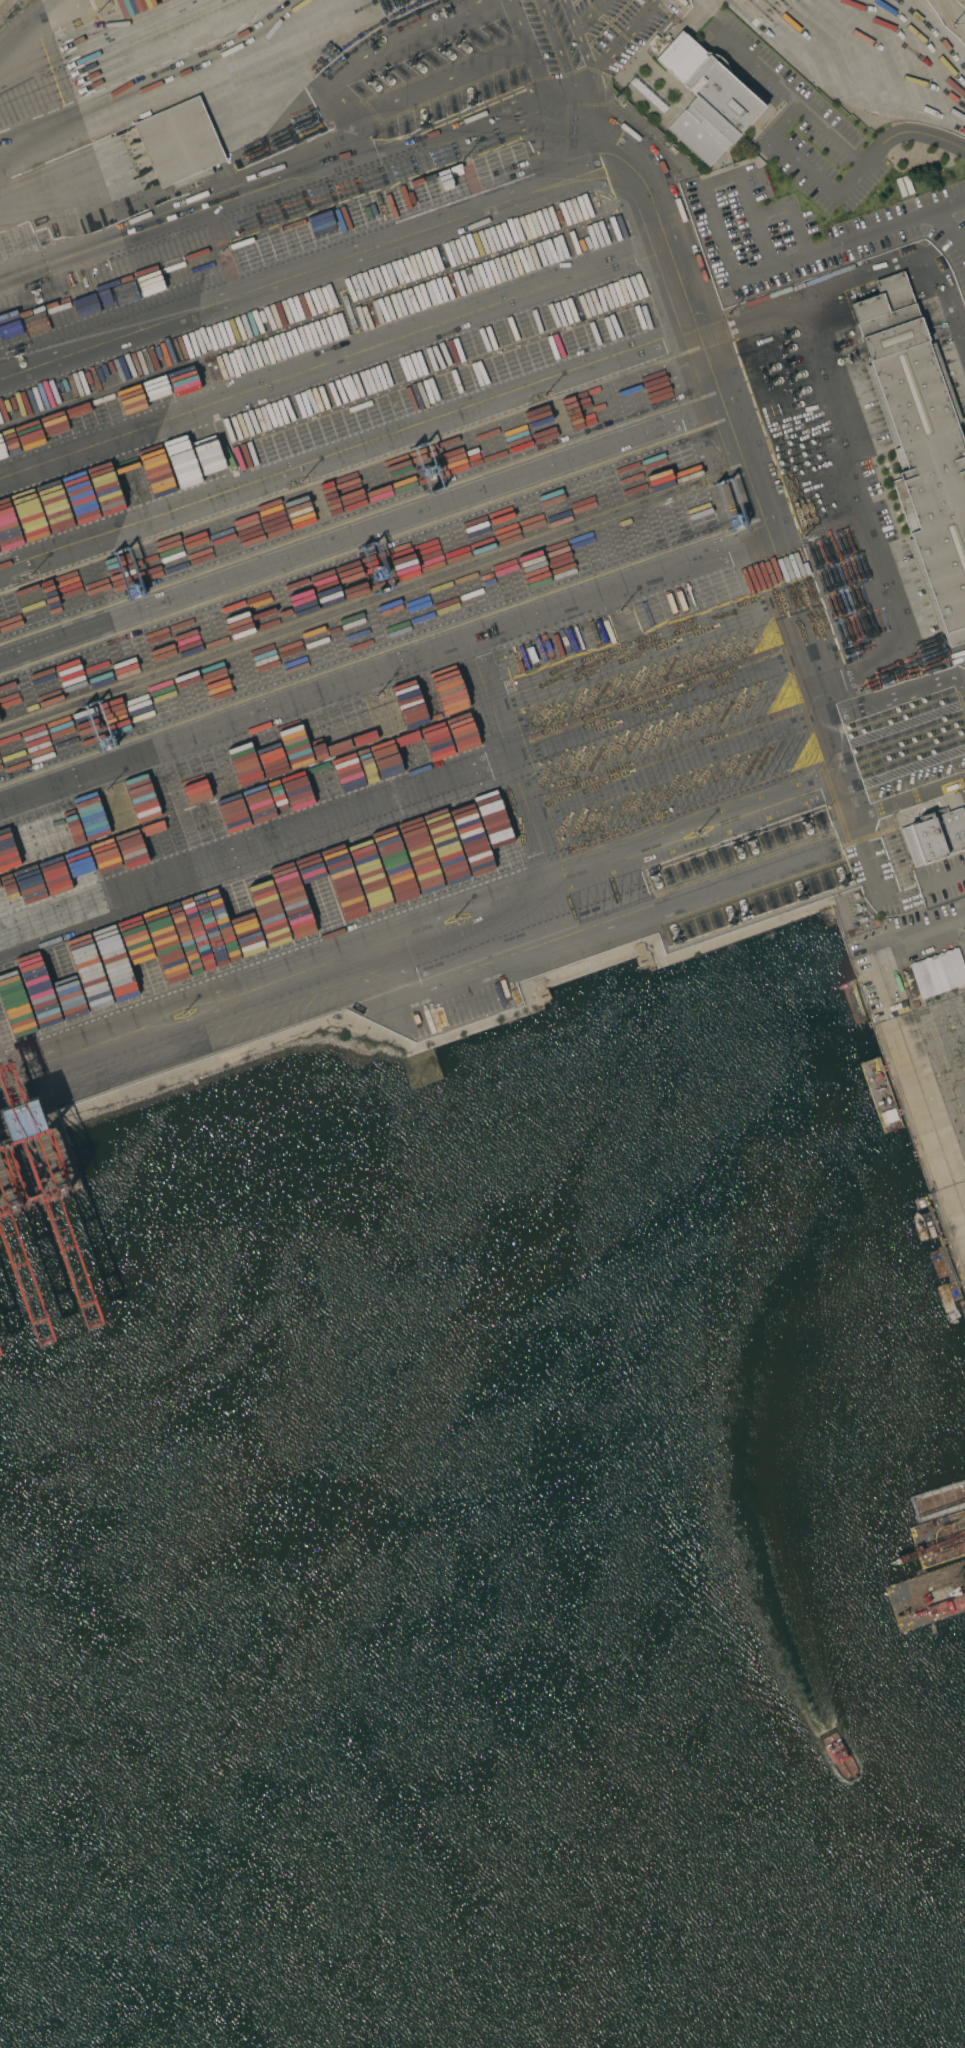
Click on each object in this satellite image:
building: (739, 1)
road: (753, 68)
road: (8, 71)
building: (706, 99)
road: (936, 139)
building: (179, 144)
road: (785, 151)
road: (701, 185)
building: (902, 186)
road: (649, 213)
road: (948, 230)
road: (867, 233)
road: (311, 268)
road: (330, 361)
building: (920, 445)
road: (346, 456)
road: (851, 464)
road: (358, 534)
road: (381, 673)
building: (934, 837)
road: (943, 877)
parking lot: (941, 879)
road: (420, 921)
building: (643, 956)
building: (539, 993)

